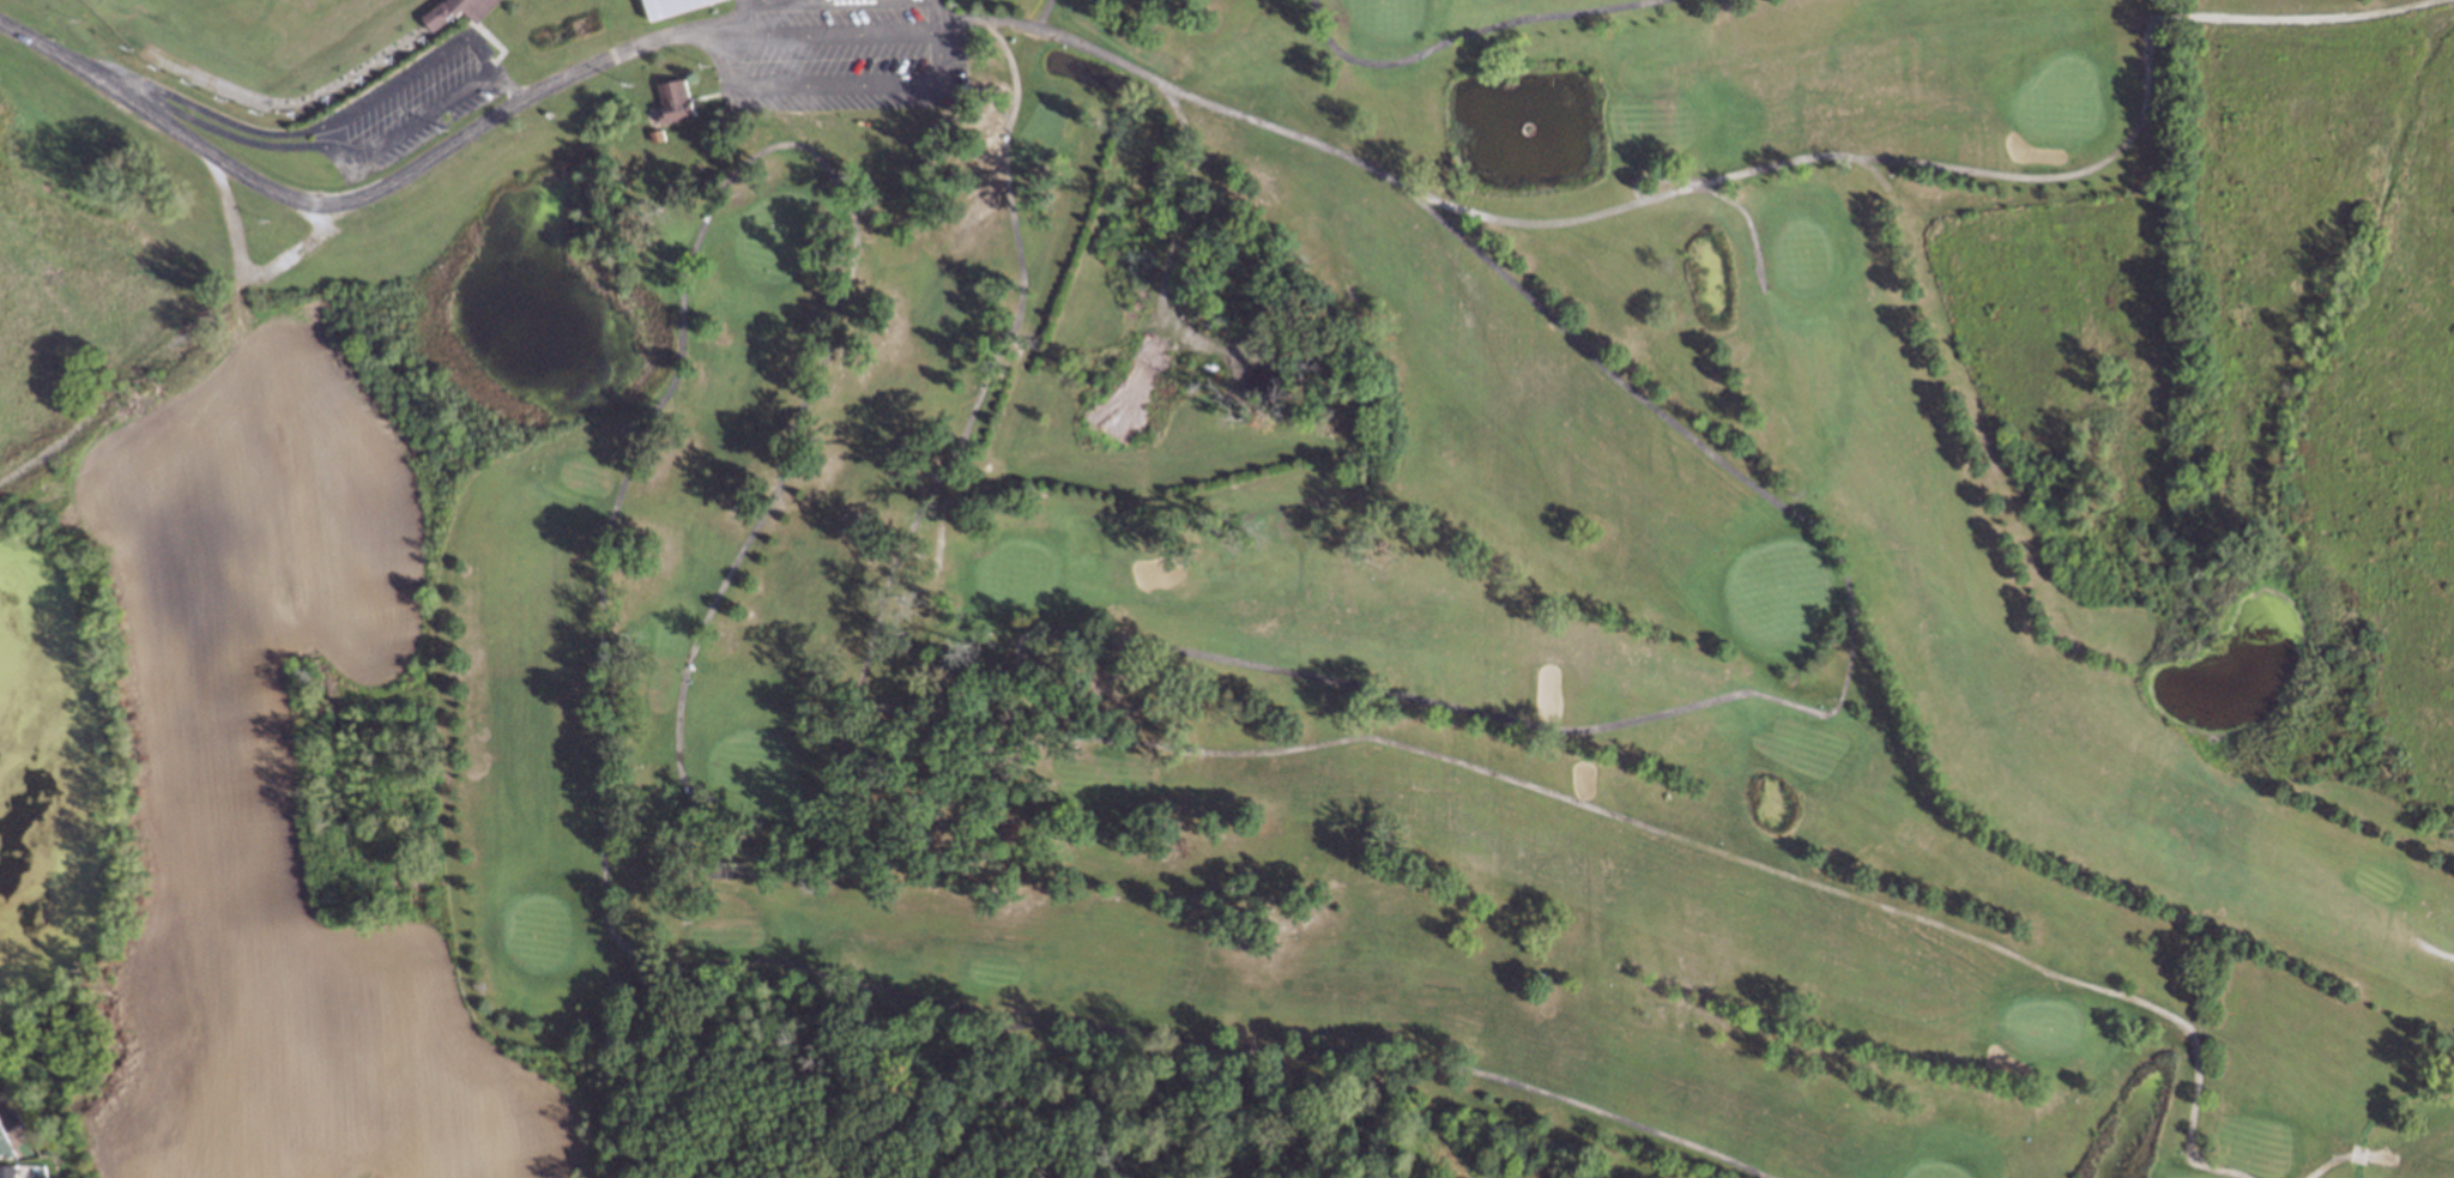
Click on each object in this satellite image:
road: (750, 0)
building: (669, 6)
building: (454, 10)
road: (731, 20)
road: (492, 65)
road: (941, 67)
road: (115, 77)
road: (508, 84)
building: (675, 99)
road: (347, 199)
park: (1415, 566)
building: (5, 1143)
building: (6, 1170)

